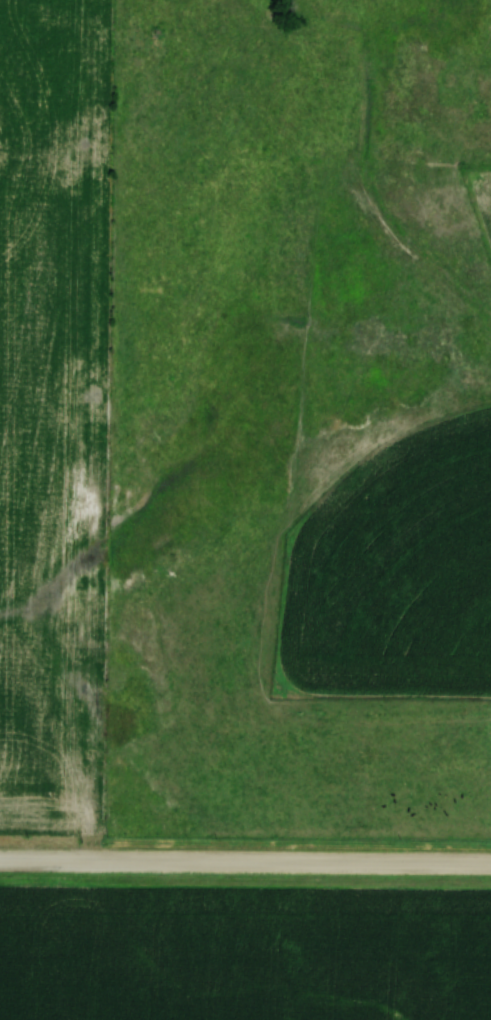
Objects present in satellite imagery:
road: (245, 863)

